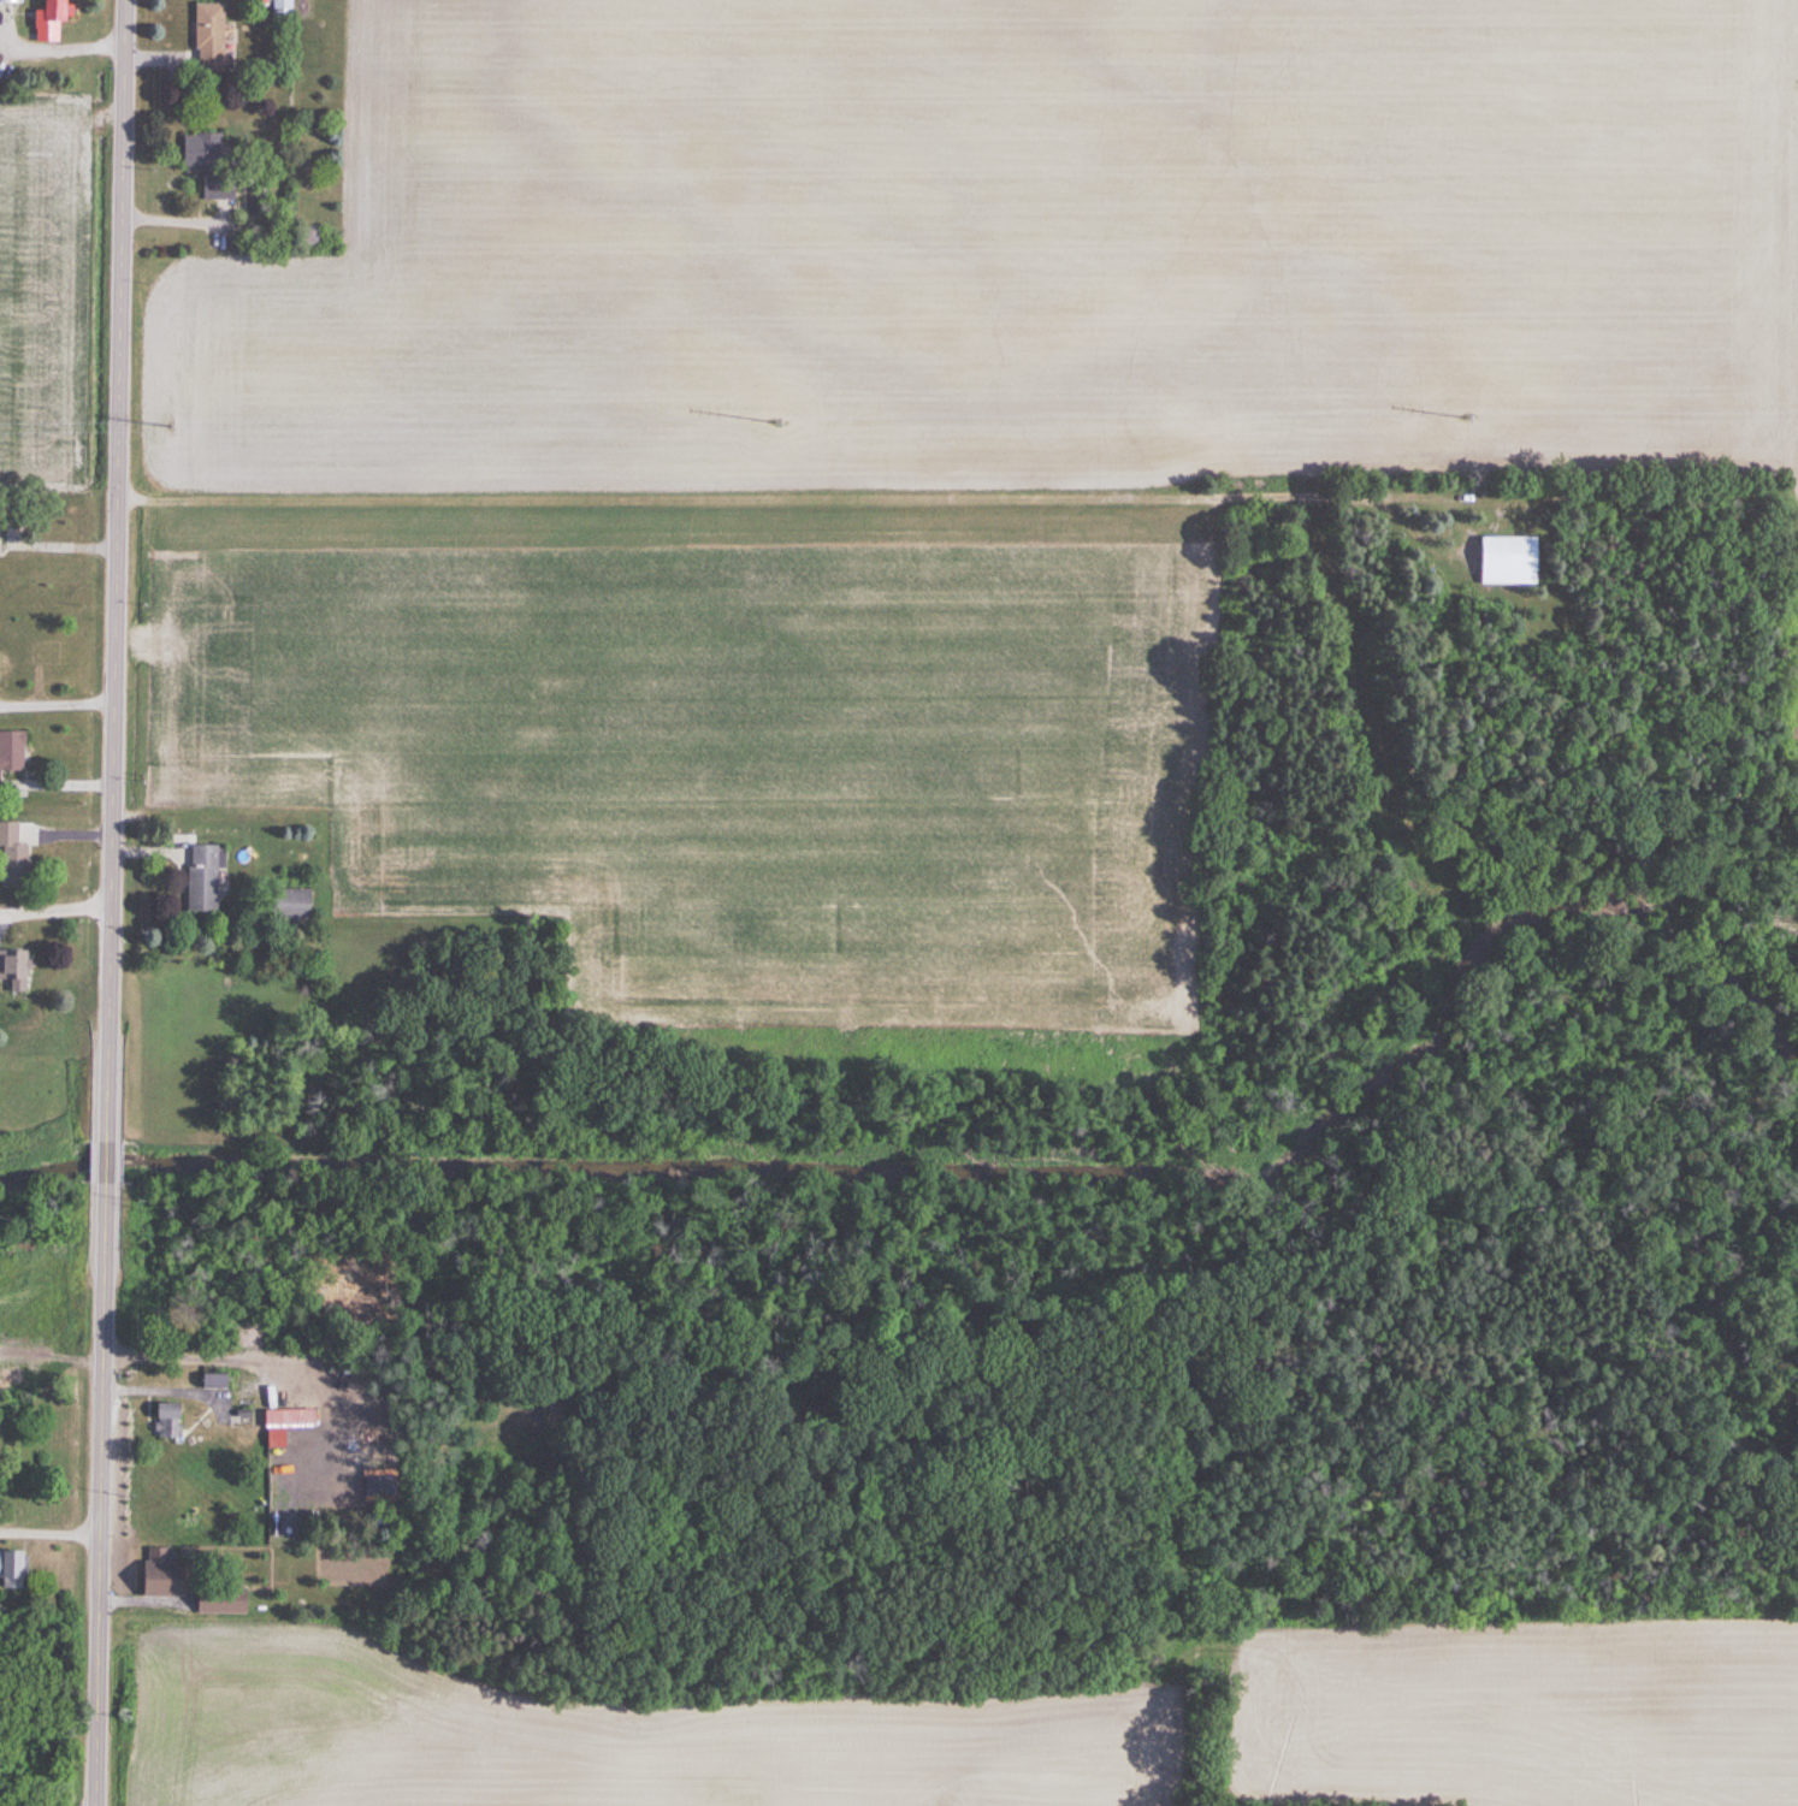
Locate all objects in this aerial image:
building: (10, 1)
building: (280, 7)
building: (47, 22)
building: (207, 37)
road: (57, 48)
building: (201, 150)
building: (215, 188)
building: (303, 237)
power tower: (1465, 420)
power tower: (779, 425)
power tower: (170, 431)
building: (1507, 561)
building: (11, 752)
building: (11, 853)
building: (200, 878)
road: (117, 902)
building: (288, 906)
road: (58, 910)
building: (13, 971)
building: (211, 1380)
building: (165, 1420)
building: (6, 1431)
building: (10, 1569)
building: (158, 1575)
building: (219, 1601)

